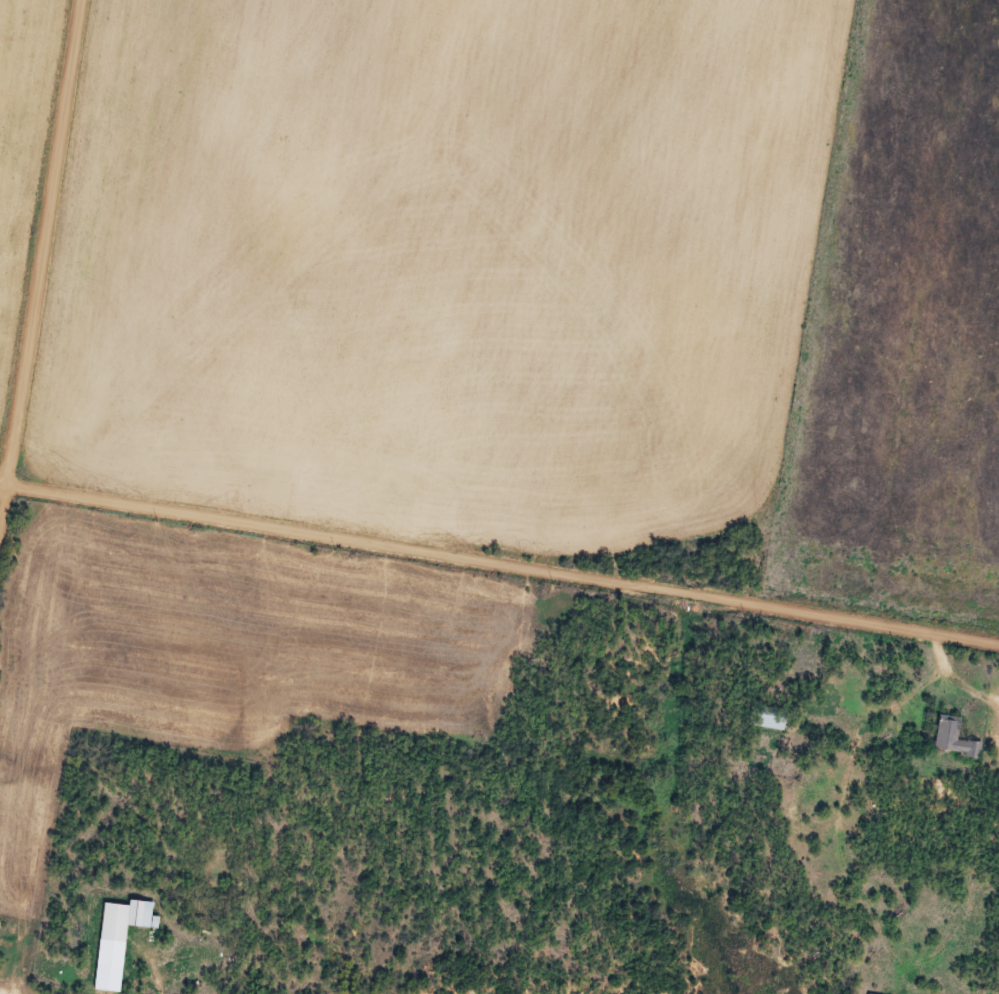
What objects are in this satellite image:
crop: (23, 155)
road: (45, 244)
crop: (438, 262)
road: (4, 509)
road: (499, 566)
building: (772, 719)
building: (954, 736)
building: (115, 922)
building: (869, 993)

